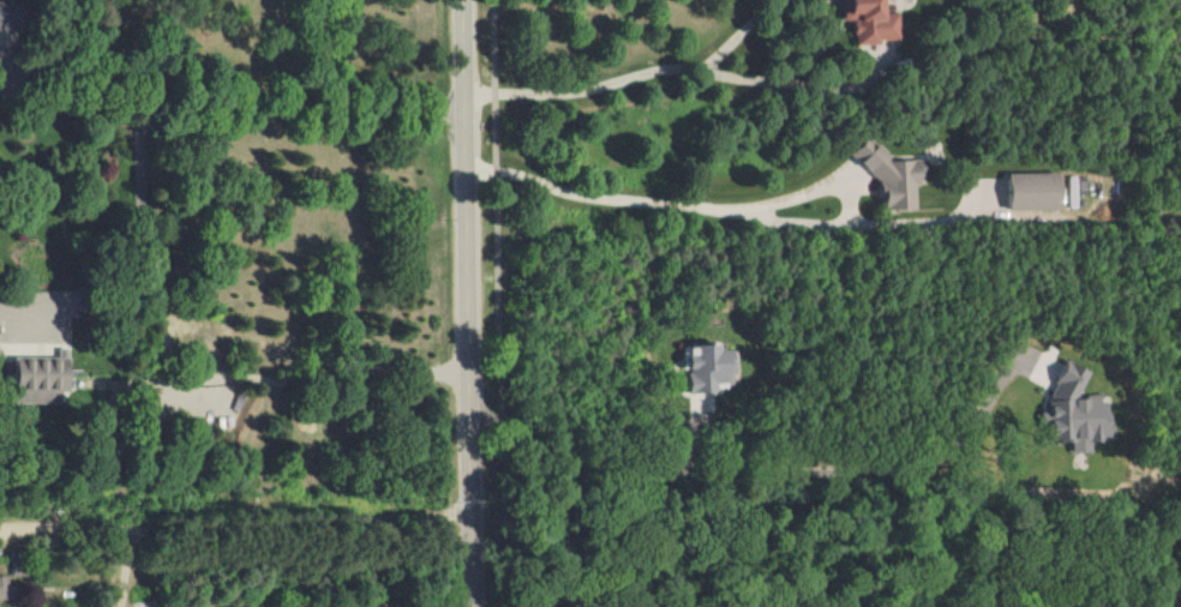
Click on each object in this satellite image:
building: (5, 16)
building: (870, 20)
road: (679, 67)
road: (232, 109)
building: (894, 179)
building: (1035, 191)
road: (664, 202)
road: (142, 239)
road: (468, 303)
road: (498, 305)
building: (708, 368)
building: (43, 372)
road: (287, 381)
building: (1075, 411)
road: (64, 527)
road: (262, 527)
building: (4, 588)

